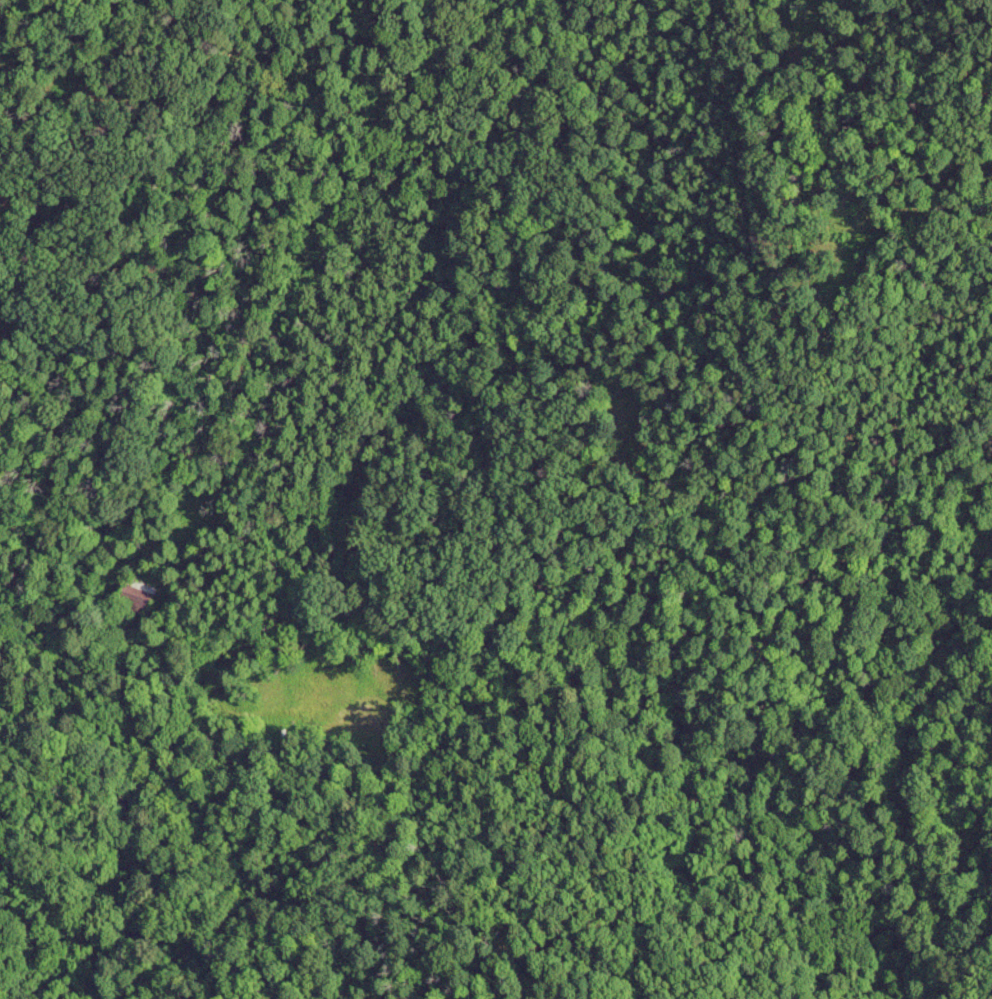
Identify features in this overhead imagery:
building: (136, 591)

